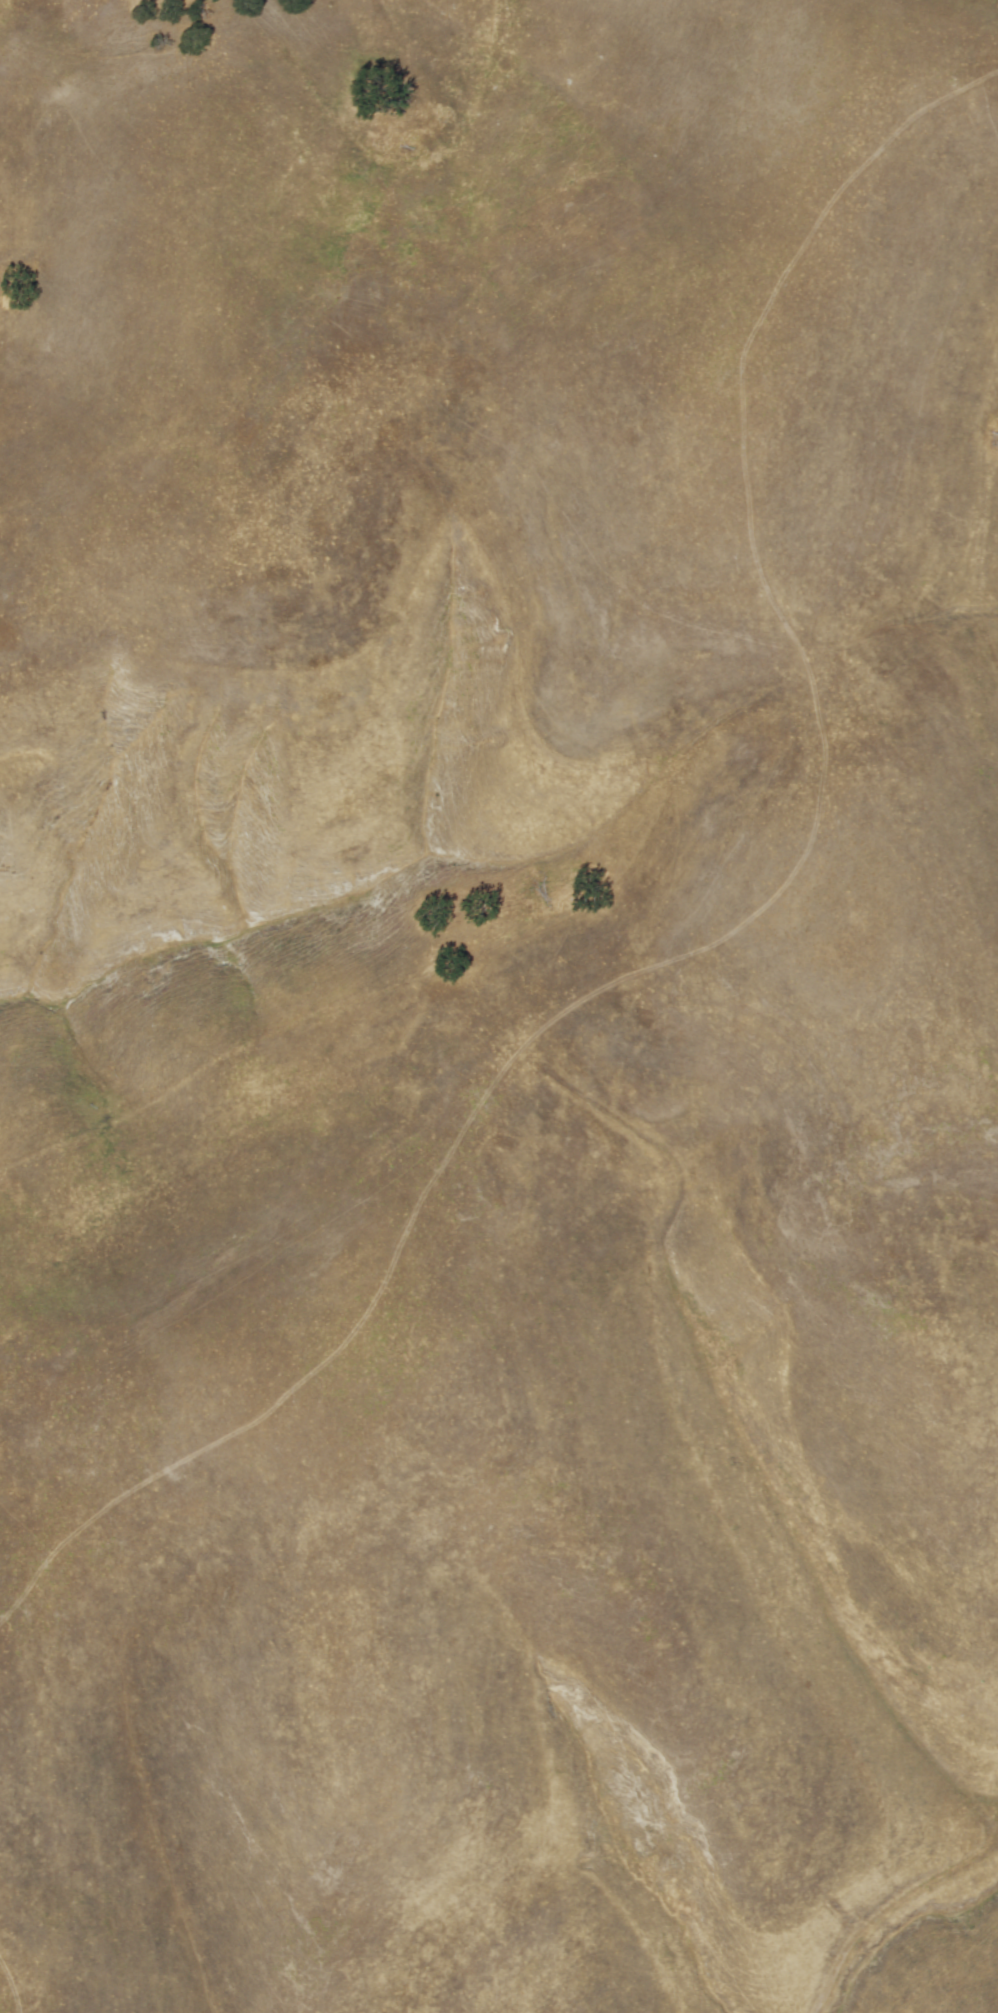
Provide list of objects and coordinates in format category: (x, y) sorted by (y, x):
road: (891, 1904)

